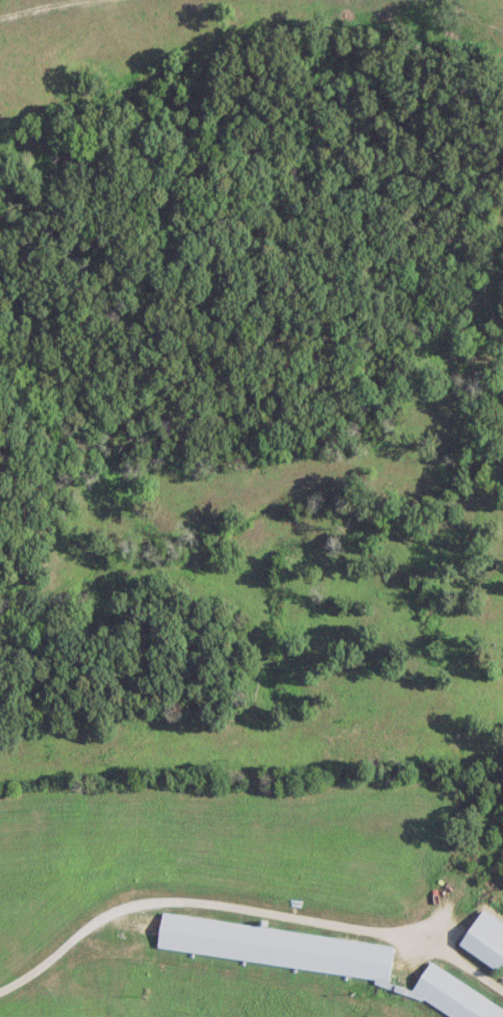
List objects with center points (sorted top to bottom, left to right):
road: (246, 908)
building: (486, 940)
building: (278, 947)
building: (449, 998)

